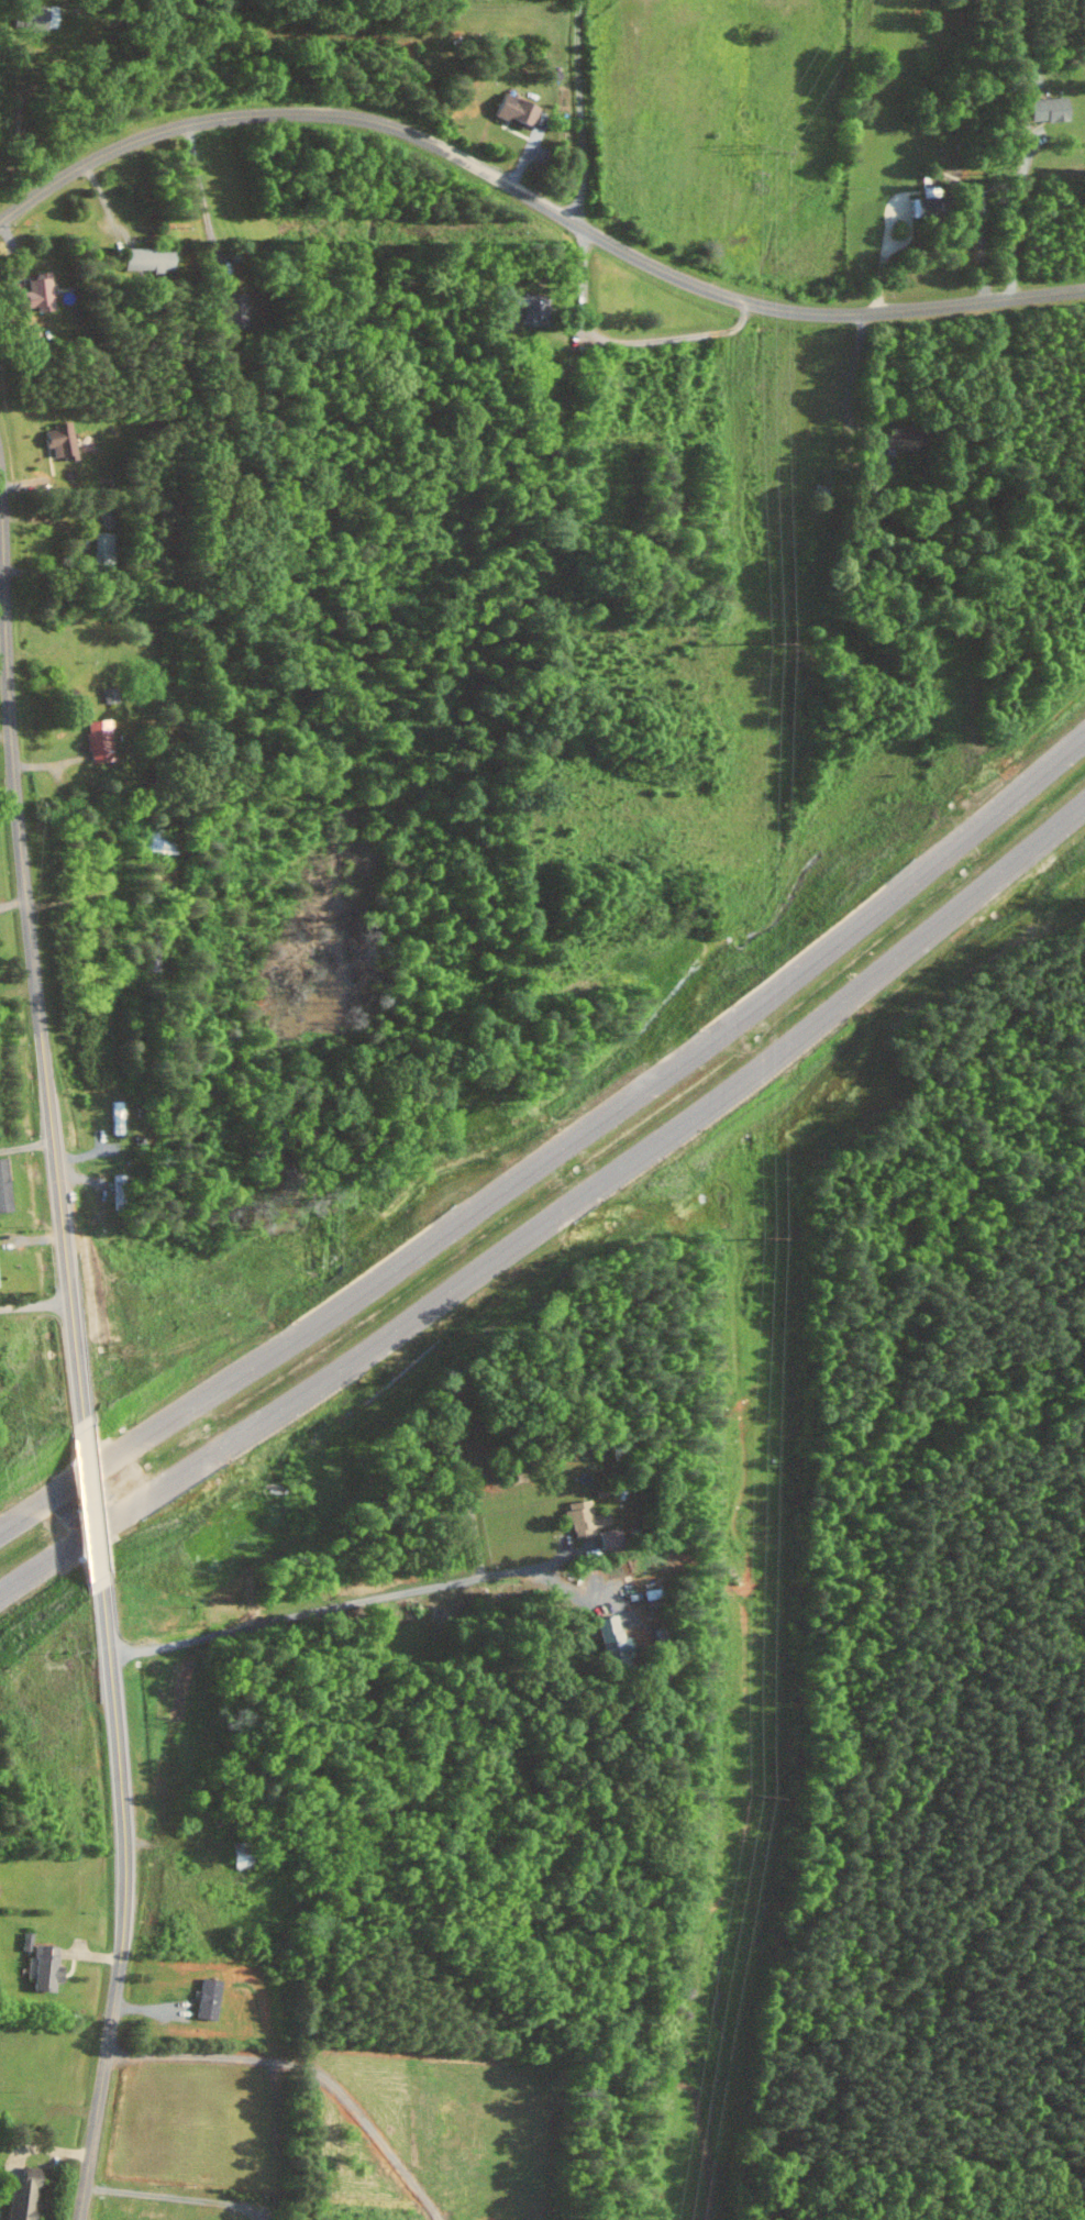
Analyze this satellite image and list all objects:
building: (33, 16)
building: (1045, 109)
building: (513, 110)
road: (578, 112)
power tower: (761, 150)
road: (199, 186)
road: (533, 197)
building: (923, 211)
road: (1017, 221)
building: (145, 258)
building: (36, 294)
building: (525, 309)
building: (233, 311)
road: (622, 342)
road: (849, 383)
building: (897, 438)
building: (59, 441)
building: (102, 546)
road: (2, 603)
power tower: (759, 640)
building: (98, 740)
building: (159, 841)
road: (32, 952)
road: (555, 1156)
building: (2, 1186)
road: (554, 1215)
power tower: (755, 1242)
road: (35, 1305)
road: (93, 1504)
building: (582, 1518)
road: (528, 1566)
road: (577, 1594)
road: (388, 1597)
building: (610, 1639)
power tower: (752, 1797)
road: (125, 1900)
building: (44, 1968)
building: (207, 1999)
building: (21, 2196)
road: (174, 2197)

